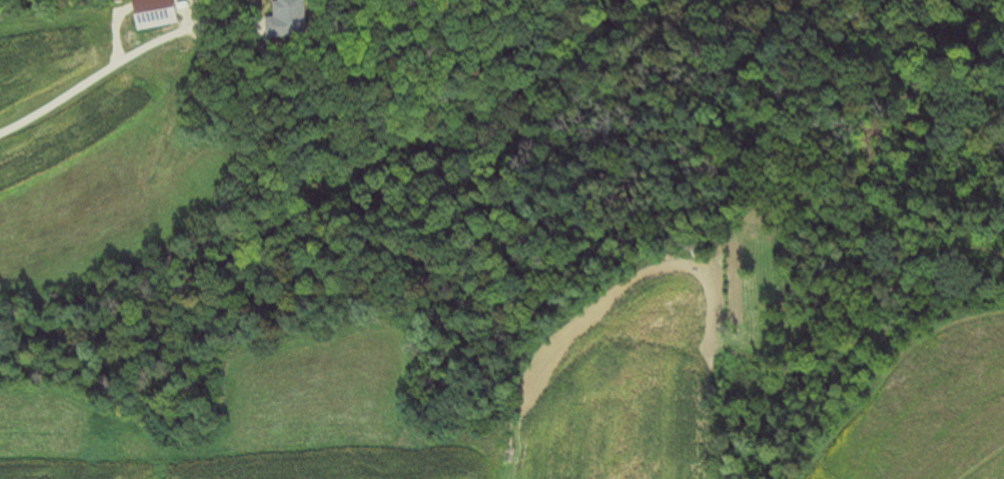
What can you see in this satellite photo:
building: (287, 21)
road: (93, 81)

